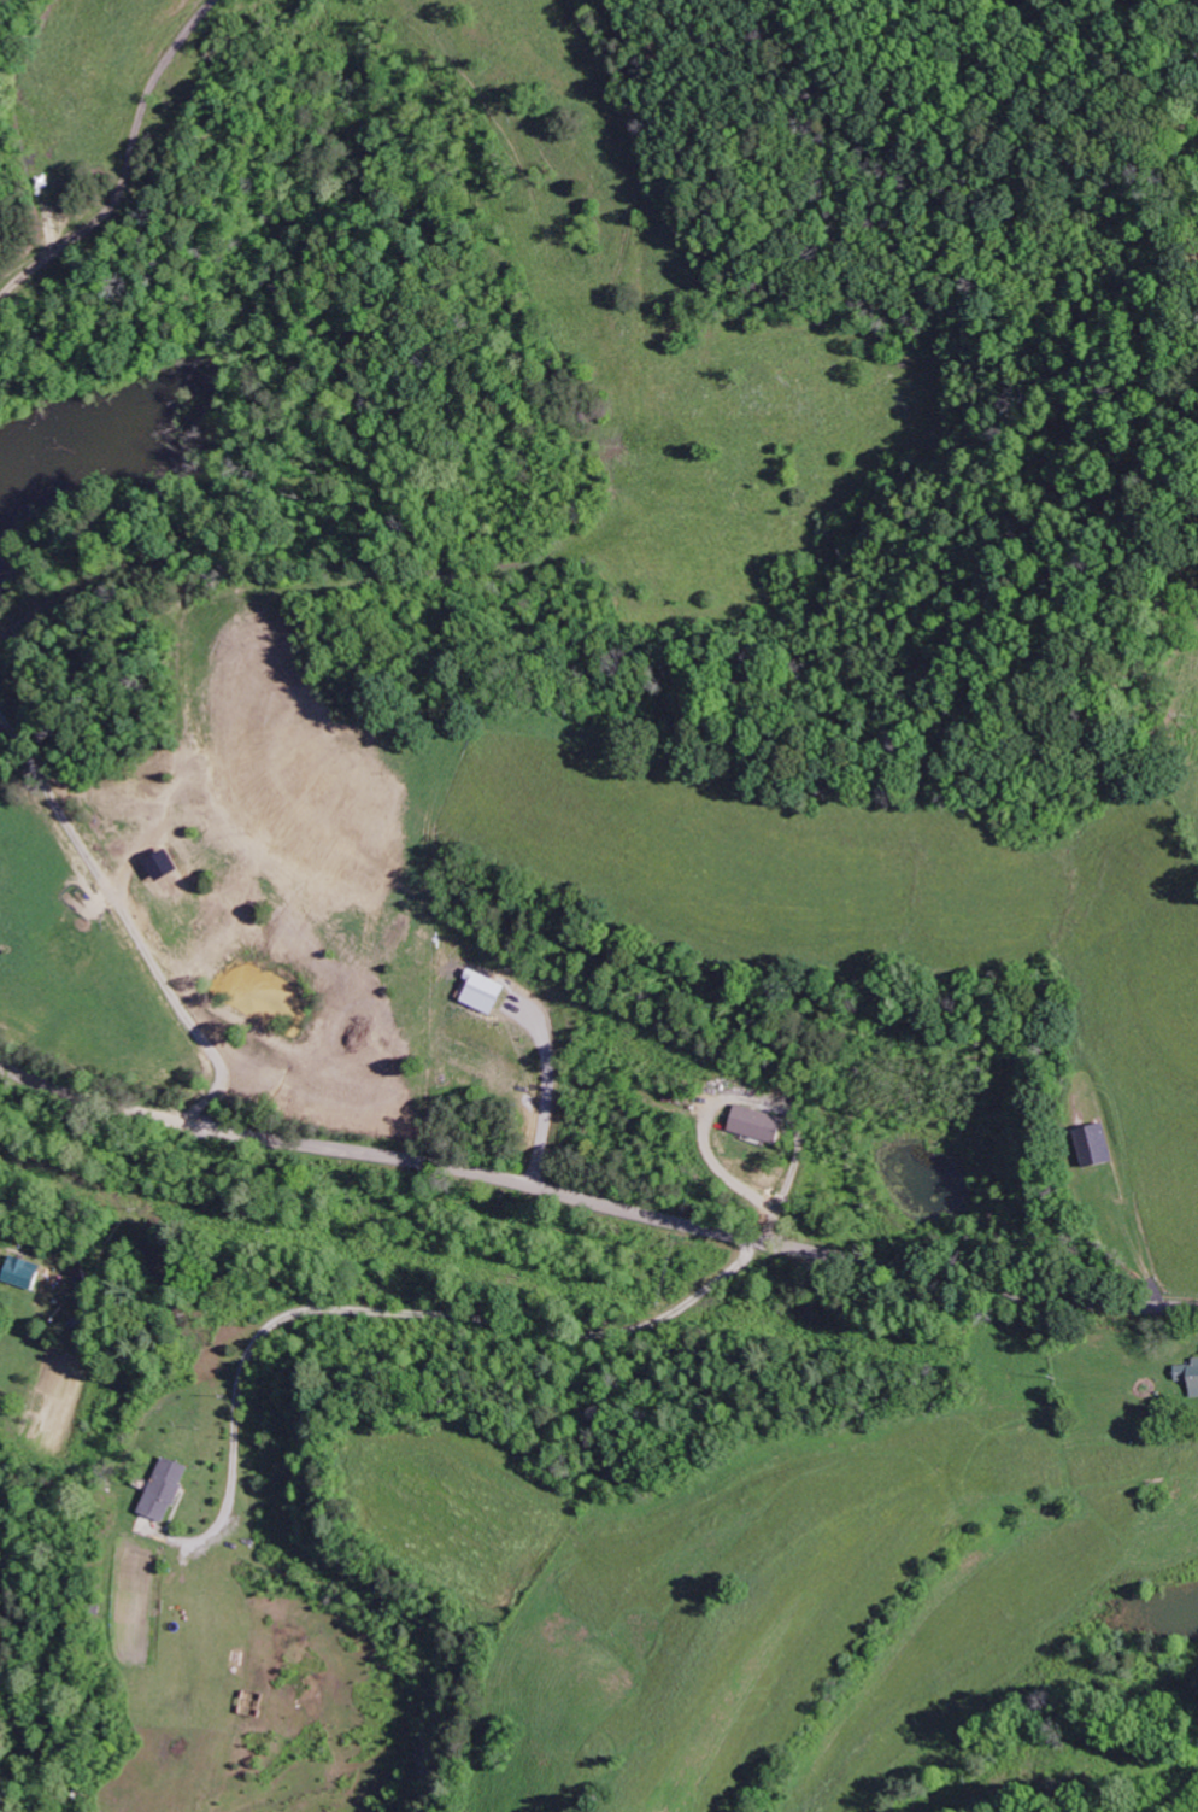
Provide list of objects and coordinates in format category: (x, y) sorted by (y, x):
building: (761, 1124)
building: (1100, 1143)
road: (595, 1200)
building: (25, 1272)
building: (1190, 1374)
building: (169, 1489)

